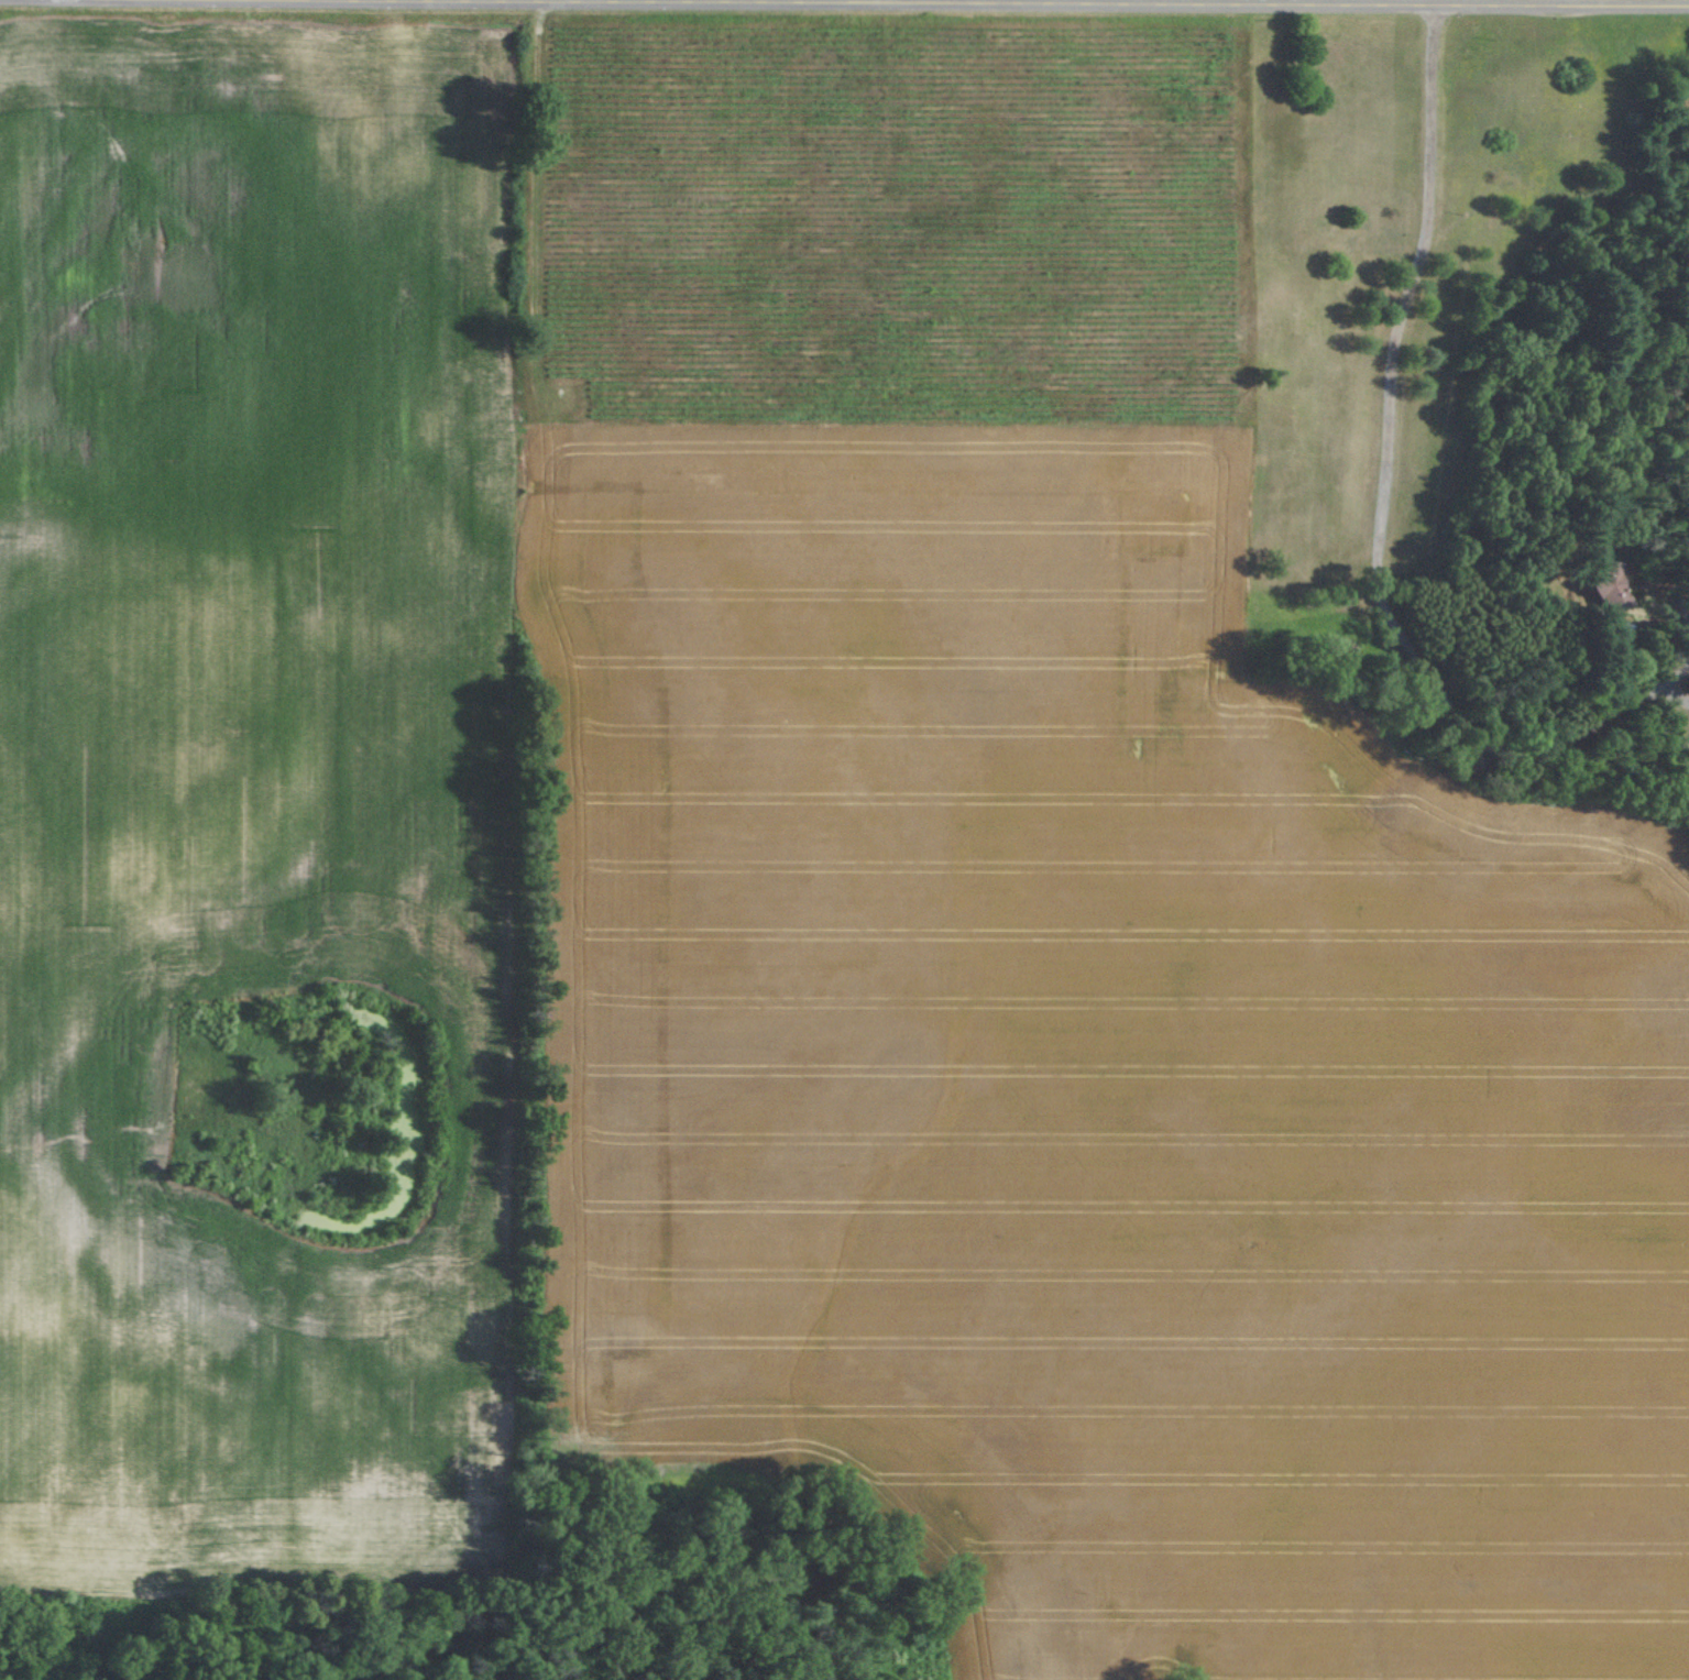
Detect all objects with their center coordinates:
road: (969, 1)
road: (1436, 2)
road: (1176, 3)
road: (1383, 499)

